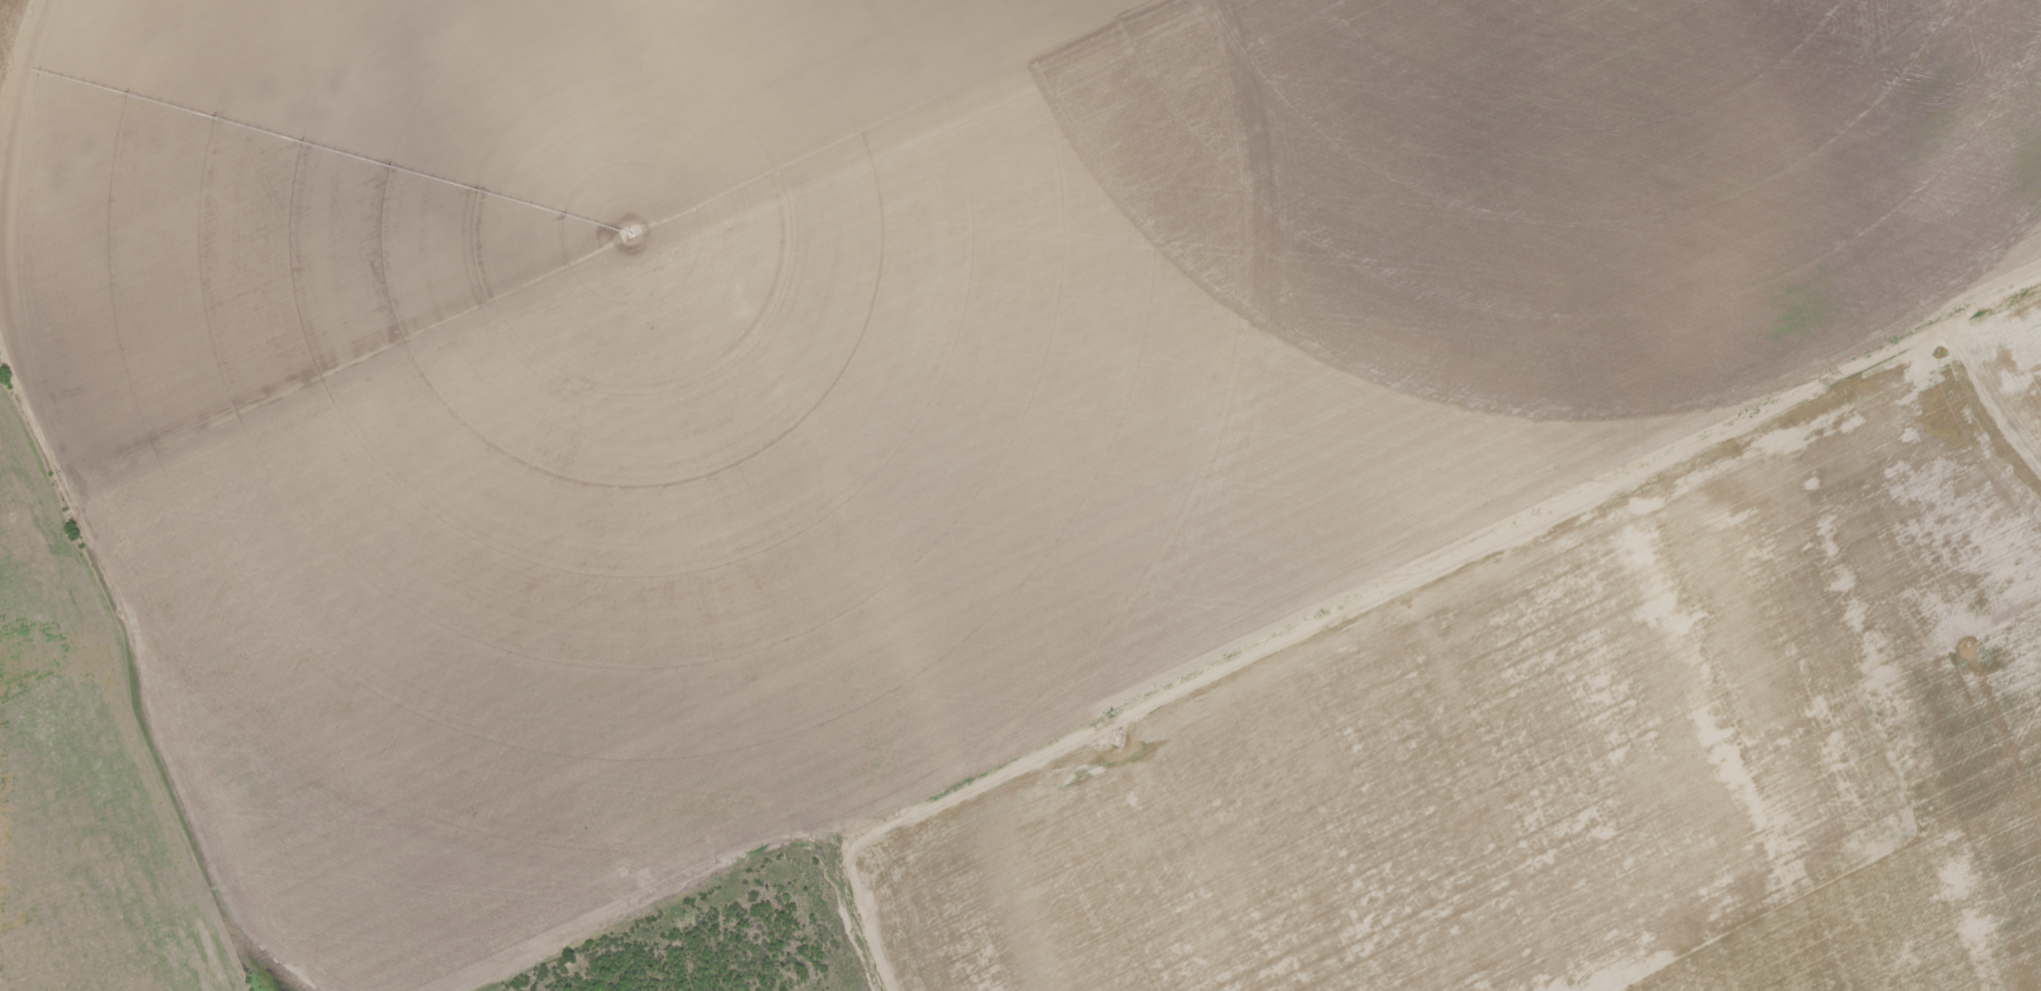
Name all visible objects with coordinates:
road: (858, 513)

